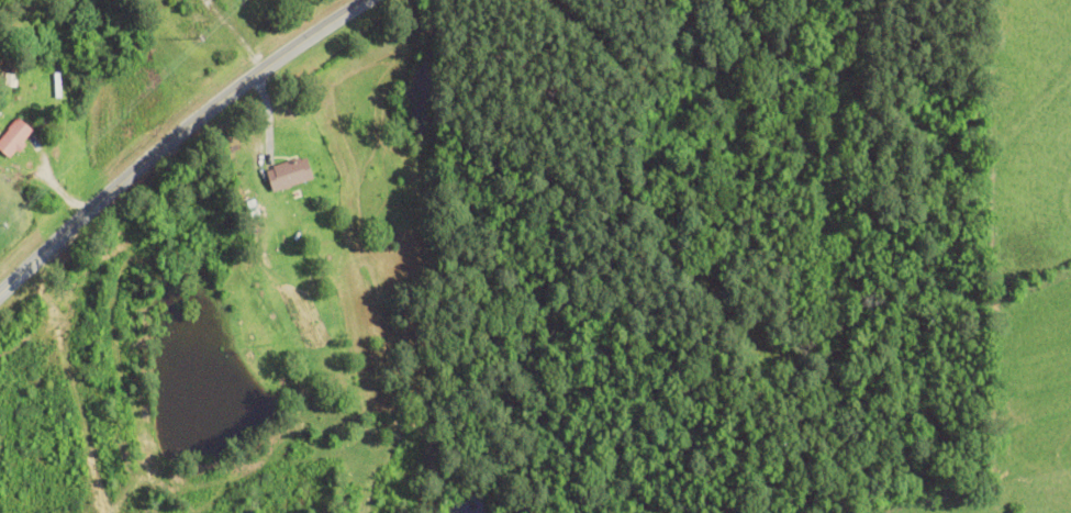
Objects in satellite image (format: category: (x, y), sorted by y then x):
road: (0, 0)
building: (161, 0)
building: (8, 79)
road: (172, 135)
building: (12, 136)
building: (287, 174)

